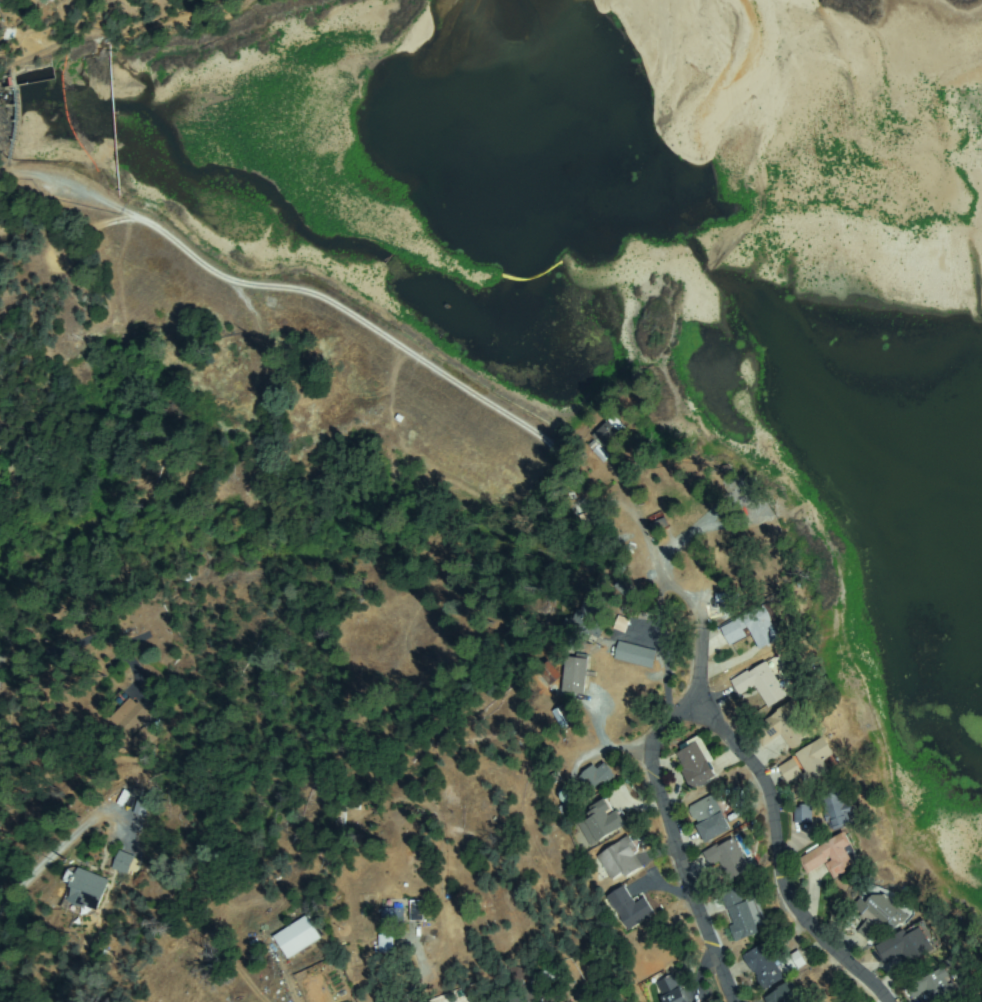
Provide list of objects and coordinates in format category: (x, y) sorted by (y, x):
dam: (19, 114)
road: (393, 340)
building: (610, 432)
building: (729, 598)
building: (588, 623)
building: (756, 627)
building: (636, 655)
road: (705, 657)
building: (549, 672)
building: (576, 674)
building: (765, 684)
building: (131, 717)
building: (566, 717)
building: (784, 726)
building: (144, 738)
building: (126, 742)
building: (817, 761)
building: (696, 763)
building: (791, 770)
building: (596, 777)
building: (836, 808)
building: (344, 812)
building: (802, 814)
building: (710, 818)
building: (599, 823)
road: (679, 847)
building: (831, 855)
building: (730, 857)
building: (621, 859)
road: (785, 862)
building: (123, 863)
building: (84, 889)
building: (630, 908)
building: (417, 911)
building: (878, 914)
building: (739, 920)
building: (389, 928)
building: (298, 937)
building: (908, 944)
building: (794, 962)
building: (766, 967)
building: (517, 976)
building: (934, 987)
building: (542, 989)
building: (671, 990)
building: (786, 995)

